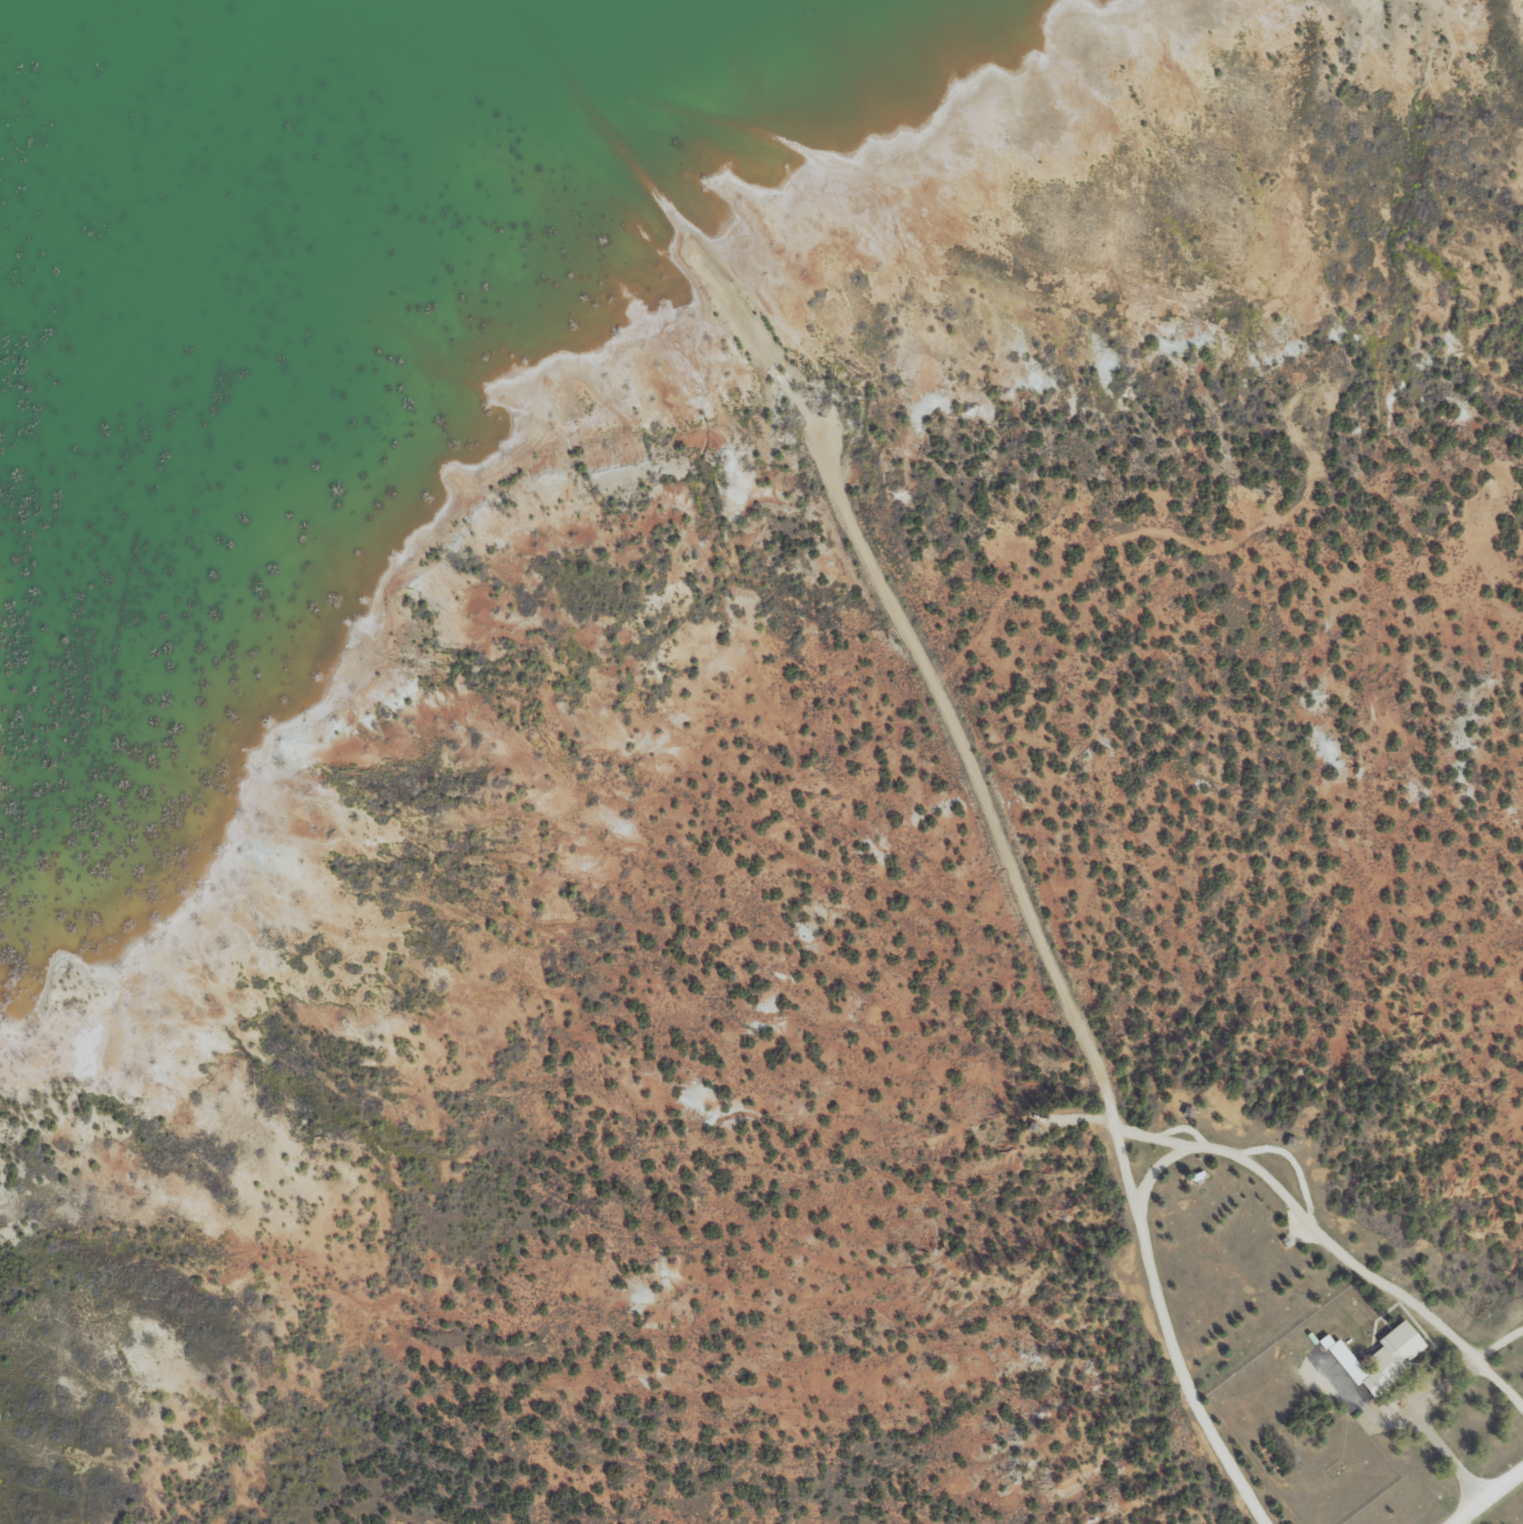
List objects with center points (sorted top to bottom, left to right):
road: (1193, 1150)
building: (1385, 1361)
road: (1489, 1497)

